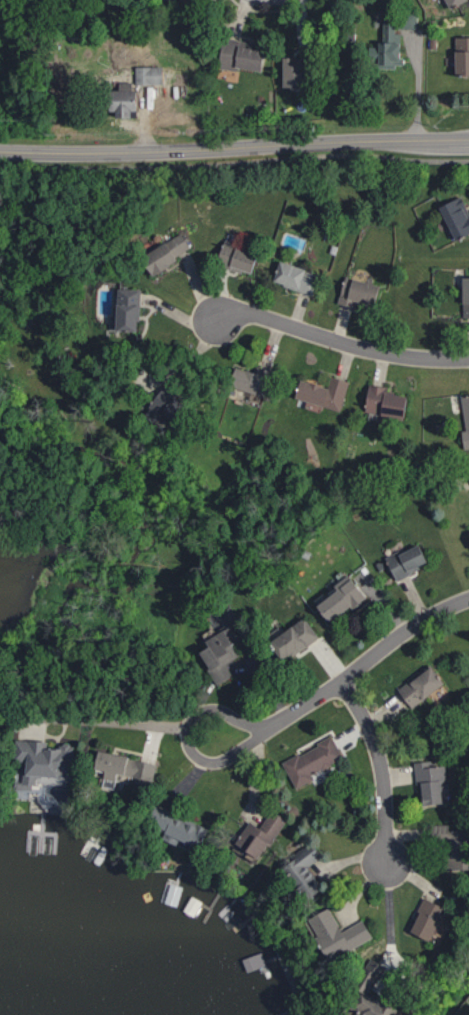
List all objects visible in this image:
building: (445, 2)
building: (380, 47)
building: (232, 55)
building: (458, 56)
building: (280, 71)
building: (145, 75)
road: (417, 88)
building: (113, 100)
road: (234, 147)
road: (234, 162)
building: (452, 217)
building: (158, 253)
building: (231, 258)
building: (287, 276)
building: (353, 292)
building: (463, 295)
building: (132, 310)
road: (341, 342)
building: (233, 379)
building: (316, 393)
building: (378, 402)
building: (170, 405)
building: (463, 422)
building: (466, 540)
building: (399, 560)
building: (344, 599)
building: (298, 640)
building: (223, 655)
road: (368, 660)
building: (425, 687)
road: (94, 720)
road: (203, 760)
building: (52, 761)
building: (314, 762)
building: (129, 768)
road: (381, 768)
building: (426, 781)
building: (186, 830)
building: (438, 831)
building: (264, 835)
building: (296, 872)
building: (421, 918)
road: (389, 924)
building: (327, 932)
building: (350, 987)

